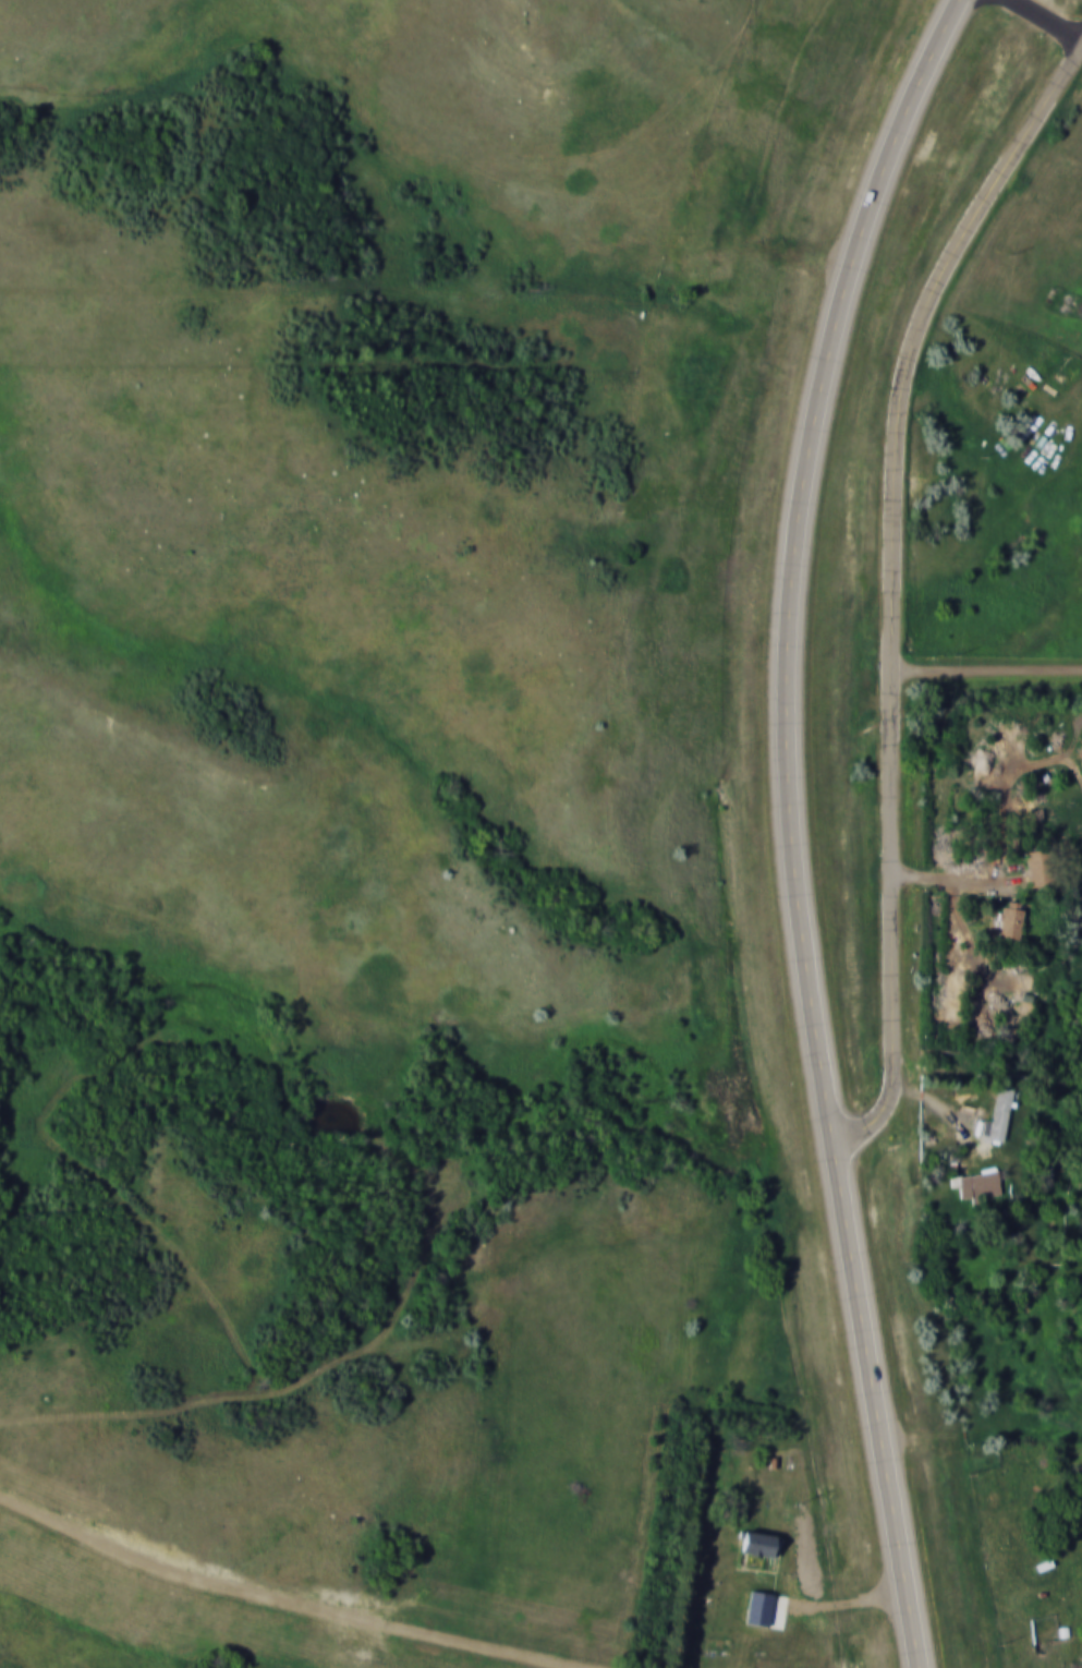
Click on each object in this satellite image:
road: (1048, 20)
road: (789, 560)
road: (896, 587)
road: (988, 672)
building: (1041, 868)
road: (963, 882)
building: (1010, 920)
building: (1000, 1113)
building: (981, 1185)
road: (872, 1405)
building: (761, 1543)
road: (832, 1603)

